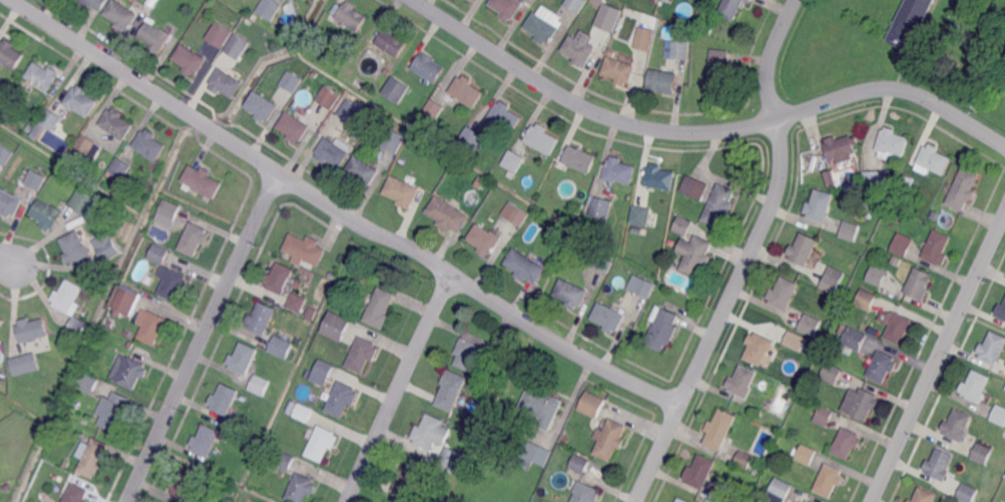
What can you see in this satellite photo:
building: (749, 1)
building: (94, 3)
building: (574, 4)
building: (614, 7)
building: (269, 8)
building: (508, 8)
building: (731, 8)
building: (121, 15)
building: (351, 17)
building: (910, 22)
building: (543, 25)
building: (699, 25)
building: (219, 34)
building: (154, 37)
building: (644, 39)
building: (391, 43)
building: (237, 45)
building: (681, 49)
building: (578, 50)
building: (343, 52)
building: (10, 54)
building: (189, 59)
building: (428, 67)
building: (720, 68)
building: (387, 71)
building: (618, 71)
building: (43, 75)
building: (312, 75)
building: (662, 80)
building: (290, 81)
building: (225, 82)
building: (395, 90)
building: (466, 90)
building: (326, 97)
building: (81, 100)
building: (261, 106)
building: (433, 108)
building: (349, 110)
building: (504, 116)
building: (47, 122)
building: (117, 123)
building: (291, 127)
road: (702, 131)
building: (360, 133)
building: (541, 138)
building: (471, 139)
building: (393, 140)
building: (892, 141)
building: (149, 144)
building: (840, 147)
building: (88, 149)
building: (332, 152)
building: (4, 155)
building: (579, 158)
building: (513, 160)
building: (933, 160)
building: (15, 162)
building: (402, 162)
building: (118, 170)
building: (362, 171)
building: (619, 171)
building: (659, 177)
building: (481, 178)
building: (34, 179)
building: (810, 179)
building: (830, 179)
building: (874, 179)
building: (201, 181)
building: (906, 184)
building: (694, 187)
building: (963, 190)
building: (401, 191)
building: (840, 199)
building: (852, 200)
building: (9, 202)
building: (83, 203)
building: (580, 205)
building: (820, 205)
building: (719, 206)
building: (601, 207)
building: (694, 212)
building: (167, 213)
road: (340, 213)
building: (515, 213)
building: (934, 213)
building: (48, 214)
building: (447, 215)
building: (641, 215)
building: (92, 224)
building: (683, 225)
building: (849, 230)
building: (193, 238)
building: (485, 239)
building: (902, 244)
building: (937, 247)
building: (75, 248)
building: (803, 248)
building: (108, 249)
building: (305, 249)
building: (158, 254)
building: (695, 255)
road: (749, 256)
road: (8, 260)
building: (602, 260)
building: (526, 266)
building: (873, 274)
building: (332, 277)
building: (279, 278)
building: (359, 280)
building: (832, 280)
building: (919, 283)
building: (171, 284)
building: (642, 286)
building: (572, 293)
building: (783, 293)
building: (67, 295)
building: (865, 298)
building: (127, 301)
building: (296, 303)
building: (381, 309)
building: (1001, 312)
building: (260, 317)
building: (609, 317)
building: (2, 321)
building: (108, 324)
building: (809, 324)
building: (897, 325)
building: (76, 327)
building: (151, 327)
building: (336, 327)
building: (663, 328)
building: (842, 328)
building: (32, 330)
road: (200, 337)
building: (795, 339)
building: (853, 339)
building: (298, 340)
building: (281, 345)
building: (319, 347)
building: (758, 347)
building: (993, 347)
building: (363, 354)
building: (468, 355)
road: (938, 357)
building: (242, 358)
building: (23, 364)
building: (882, 366)
building: (129, 370)
building: (503, 371)
building: (309, 372)
building: (324, 373)
building: (831, 374)
building: (743, 381)
building: (87, 382)
building: (259, 384)
building: (976, 387)
road: (399, 388)
building: (489, 388)
building: (452, 390)
building: (224, 399)
building: (342, 400)
building: (74, 402)
building: (592, 403)
building: (861, 404)
building: (292, 407)
building: (543, 407)
building: (114, 409)
building: (235, 411)
building: (304, 413)
building: (999, 415)
building: (824, 416)
building: (580, 418)
building: (958, 425)
building: (720, 429)
building: (432, 434)
building: (613, 441)
building: (847, 442)
building: (203, 444)
building: (322, 444)
building: (218, 451)
building: (983, 453)
building: (532, 455)
building: (805, 455)
building: (93, 456)
building: (745, 459)
building: (451, 460)
building: (285, 462)
building: (65, 464)
building: (581, 464)
building: (940, 465)
building: (701, 471)
building: (408, 476)
building: (830, 480)
building: (185, 483)
building: (301, 488)
building: (779, 490)
building: (587, 492)
building: (77, 493)
building: (967, 493)
building: (923, 496)
building: (725, 499)
building: (946, 499)
building: (682, 500)
building: (810, 500)
building: (388, 501)

